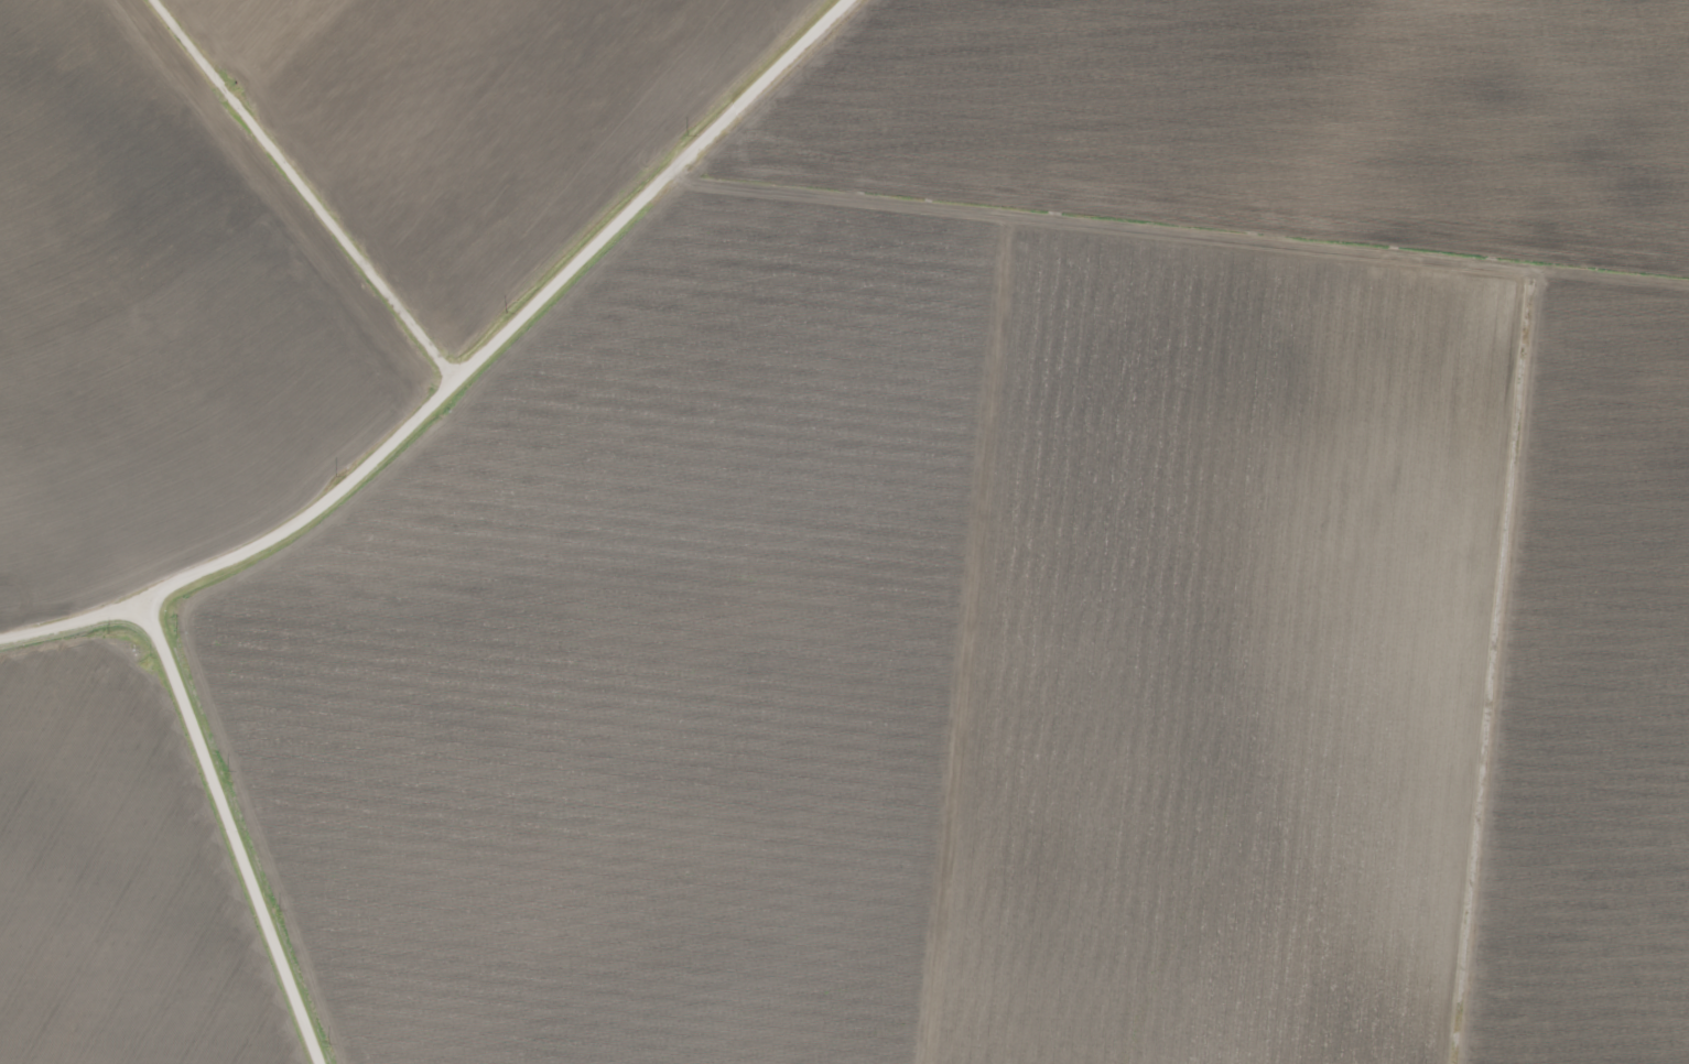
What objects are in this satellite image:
road: (297, 194)
road: (462, 379)
road: (227, 835)

